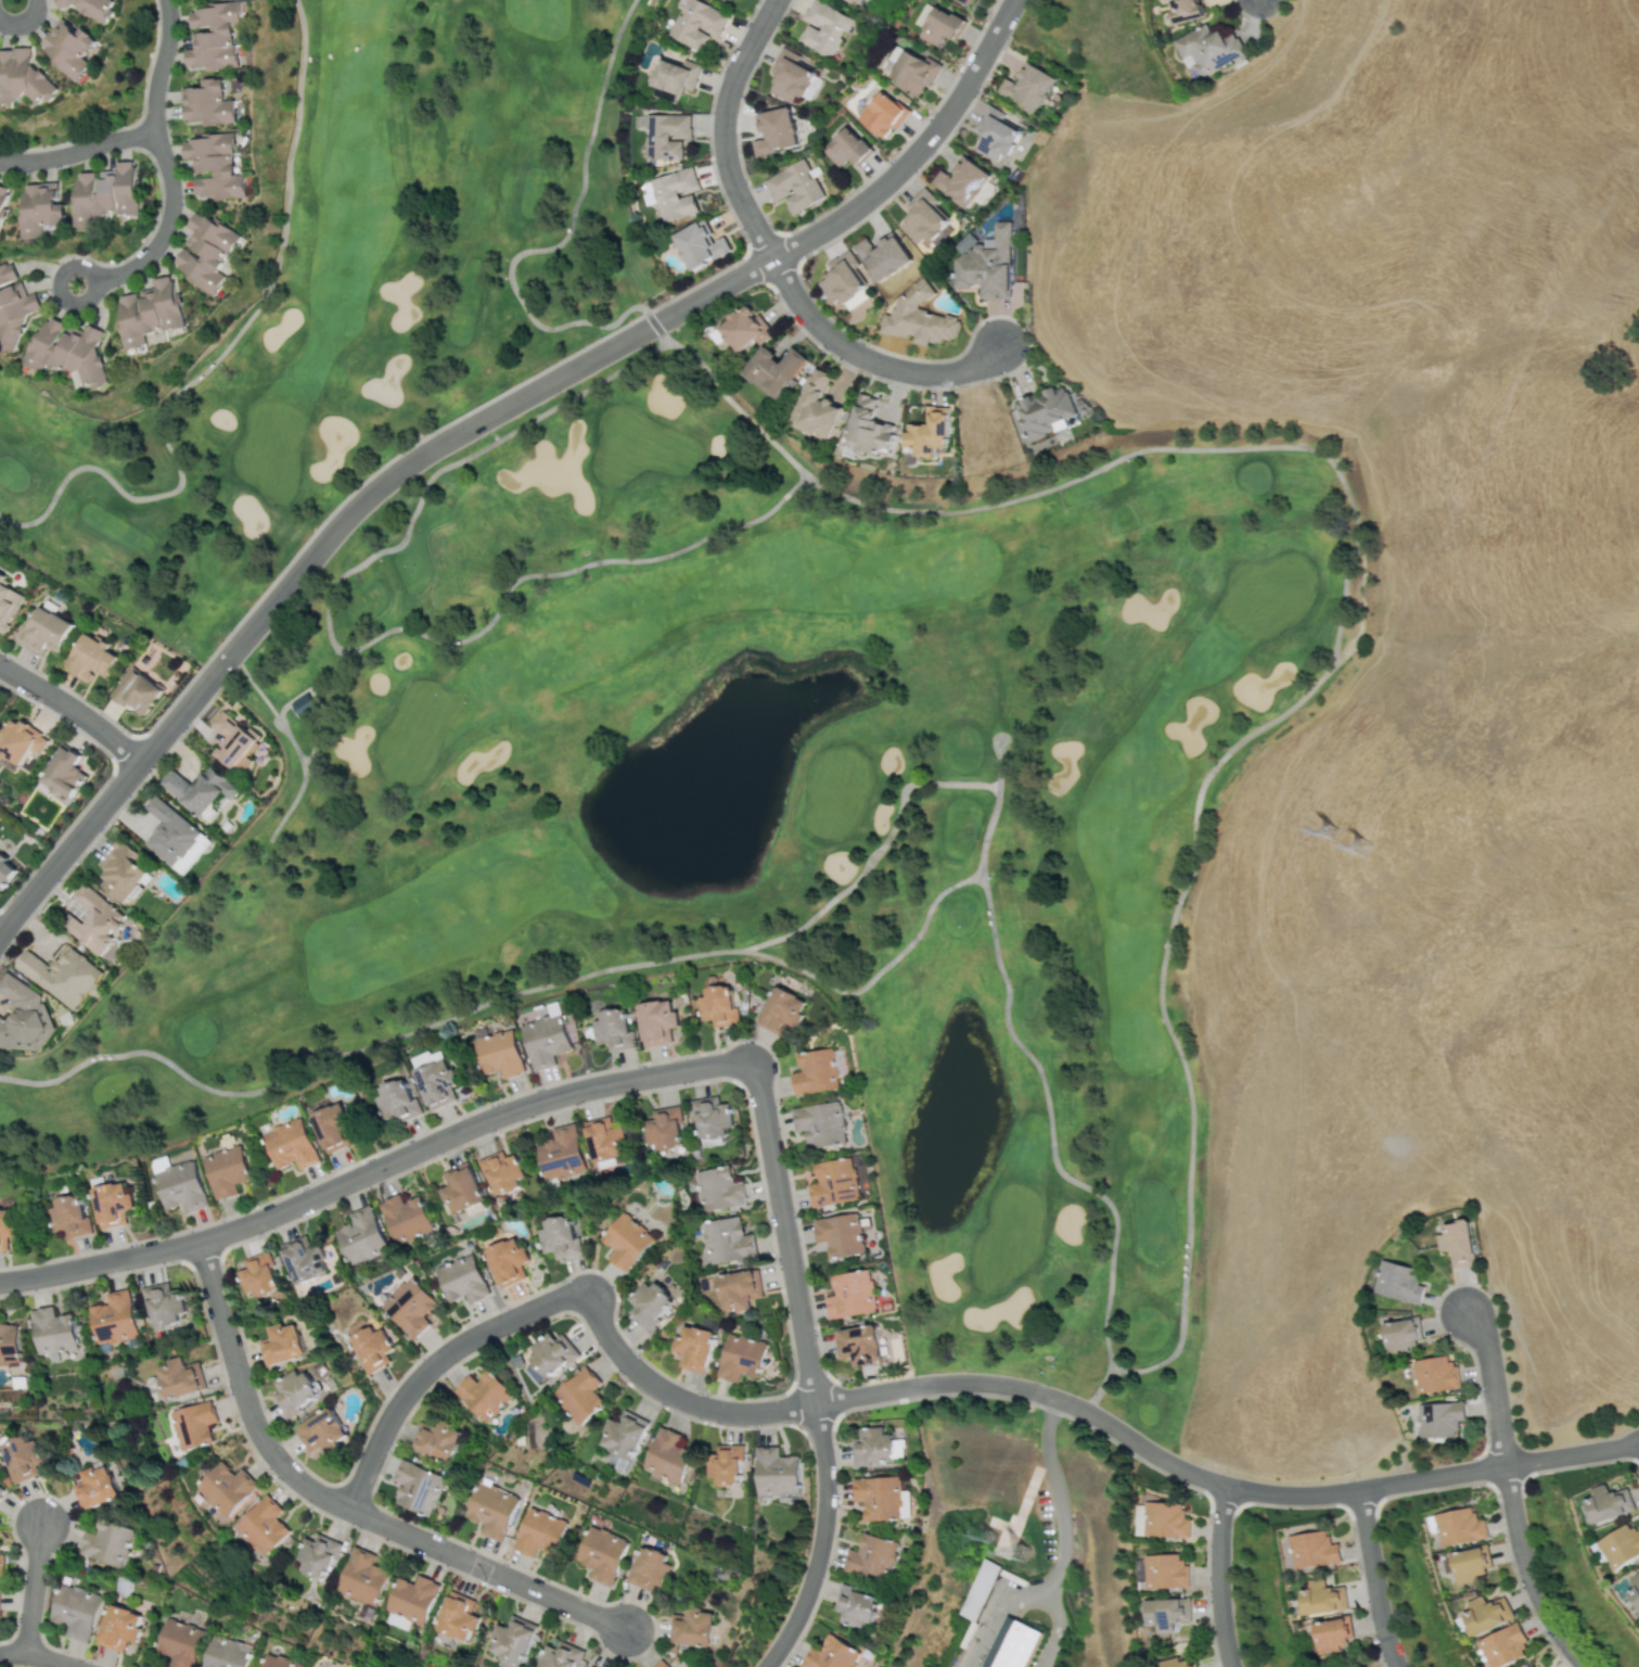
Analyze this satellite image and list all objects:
building: (965, 1)
building: (857, 2)
building: (89, 8)
building: (1183, 10)
road: (1006, 14)
road: (24, 21)
building: (697, 24)
building: (939, 26)
building: (823, 27)
building: (215, 36)
building: (69, 48)
building: (1207, 49)
building: (912, 72)
building: (674, 75)
building: (791, 75)
building: (22, 77)
building: (1027, 87)
building: (206, 103)
building: (882, 114)
road: (722, 128)
building: (776, 131)
building: (995, 132)
building: (663, 133)
park: (468, 137)
building: (846, 148)
road: (78, 150)
road: (163, 161)
road: (904, 163)
building: (216, 165)
building: (962, 181)
building: (794, 186)
building: (648, 192)
building: (106, 193)
building: (675, 193)
building: (3, 201)
building: (41, 208)
building: (922, 217)
road: (565, 237)
building: (700, 245)
building: (207, 251)
building: (882, 256)
building: (985, 263)
building: (5, 272)
building: (842, 278)
park: (113, 280)
road: (55, 291)
building: (150, 311)
building: (14, 314)
building: (918, 317)
road: (653, 325)
building: (744, 328)
building: (71, 352)
road: (218, 356)
road: (866, 359)
building: (774, 370)
building: (816, 406)
building: (1043, 411)
park: (884, 416)
road: (474, 424)
building: (869, 428)
building: (927, 433)
building: (7, 605)
road: (1361, 606)
building: (43, 631)
road: (356, 649)
building: (90, 658)
building: (135, 690)
road: (287, 702)
building: (303, 707)
road: (270, 708)
road: (72, 710)
park: (131, 710)
park: (1217, 731)
building: (232, 738)
building: (20, 740)
road: (312, 749)
road: (998, 763)
building: (64, 773)
building: (200, 790)
road: (113, 793)
park: (105, 796)
park: (105, 796)
power tower: (1333, 827)
building: (175, 837)
power tower: (1366, 841)
building: (5, 870)
building: (121, 870)
building: (94, 920)
road: (876, 972)
building: (62, 975)
building: (718, 1005)
building: (781, 1010)
building: (22, 1017)
building: (656, 1021)
building: (614, 1029)
park: (213, 1030)
building: (499, 1053)
building: (426, 1058)
building: (816, 1071)
building: (436, 1083)
park: (733, 1085)
building: (396, 1099)
road: (535, 1103)
building: (712, 1117)
building: (820, 1123)
building: (665, 1129)
building: (606, 1140)
building: (291, 1144)
building: (560, 1151)
building: (227, 1170)
building: (501, 1172)
building: (833, 1182)
building: (179, 1184)
building: (460, 1188)
building: (718, 1188)
building: (112, 1204)
building: (69, 1216)
building: (405, 1218)
building: (5, 1227)
building: (840, 1234)
building: (361, 1236)
building: (558, 1237)
building: (727, 1239)
building: (626, 1242)
building: (1456, 1243)
building: (303, 1259)
building: (507, 1260)
building: (258, 1275)
building: (462, 1278)
building: (1398, 1282)
building: (737, 1289)
building: (850, 1295)
road: (556, 1298)
building: (163, 1303)
building: (649, 1303)
building: (409, 1306)
building: (114, 1318)
building: (52, 1331)
building: (1400, 1335)
park: (968, 1341)
building: (9, 1342)
building: (283, 1344)
building: (857, 1345)
building: (693, 1347)
building: (370, 1348)
building: (549, 1357)
building: (741, 1357)
road: (1124, 1370)
building: (1434, 1374)
building: (179, 1377)
road: (1489, 1386)
road: (1098, 1389)
building: (294, 1392)
building: (484, 1394)
building: (579, 1395)
building: (1437, 1418)
building: (192, 1424)
park: (1144, 1428)
building: (321, 1430)
building: (622, 1436)
building: (437, 1438)
building: (872, 1446)
building: (897, 1448)
road: (1153, 1453)
road: (1570, 1453)
building: (666, 1456)
building: (22, 1459)
building: (725, 1465)
building: (776, 1472)
building: (418, 1486)
building: (98, 1487)
building: (223, 1488)
building: (1, 1490)
building: (882, 1498)
road: (1057, 1498)
building: (1606, 1503)
road: (340, 1504)
building: (494, 1510)
building: (1160, 1519)
building: (260, 1525)
building: (1459, 1527)
power tower: (993, 1530)
building: (539, 1532)
road: (820, 1541)
building: (106, 1542)
building: (1619, 1545)
power tower: (1022, 1547)
building: (1313, 1549)
building: (602, 1554)
building: (316, 1555)
building: (873, 1557)
building: (1470, 1563)
building: (1, 1564)
building: (651, 1568)
building: (1164, 1571)
road: (1526, 1573)
road: (1217, 1576)
building: (361, 1577)
road: (1372, 1578)
building: (1635, 1589)
road: (33, 1590)
building: (978, 1590)
building: (0, 1592)
building: (411, 1598)
building: (1321, 1598)
building: (856, 1605)
building: (76, 1611)
building: (1165, 1613)
building: (1484, 1614)
building: (456, 1616)
road: (1001, 1617)
building: (118, 1627)
building: (694, 1627)
road: (1057, 1631)
building: (1332, 1633)
building: (511, 1641)
building: (180, 1642)
building: (1019, 1644)
building: (1502, 1645)
building: (228, 1653)
building: (832, 1654)
building: (558, 1655)
road: (37, 1657)
building: (281, 1662)
building: (1177, 1662)
building: (657, 1665)
building: (1535, 1665)

